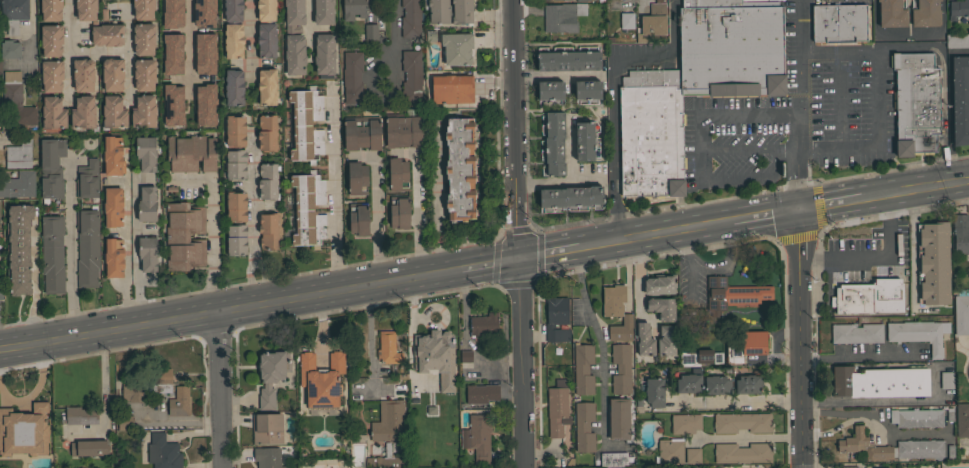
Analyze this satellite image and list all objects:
building: (544, 0)
building: (580, 0)
building: (51, 9)
building: (86, 9)
building: (143, 9)
building: (266, 9)
building: (354, 9)
building: (958, 9)
building: (233, 10)
building: (182, 11)
building: (450, 11)
building: (323, 12)
building: (14, 13)
building: (164, 13)
building: (196, 13)
building: (925, 13)
building: (891, 14)
building: (562, 16)
building: (410, 18)
building: (625, 20)
building: (652, 22)
building: (838, 22)
road: (394, 25)
building: (369, 32)
building: (107, 34)
building: (294, 37)
building: (144, 38)
road: (249, 38)
building: (51, 39)
building: (233, 40)
building: (266, 40)
building: (957, 40)
building: (198, 46)
road: (31, 48)
building: (456, 48)
building: (10, 49)
road: (98, 51)
road: (68, 52)
building: (164, 54)
building: (324, 54)
road: (128, 55)
building: (568, 61)
building: (0, 66)
building: (83, 74)
building: (112, 74)
building: (144, 74)
building: (52, 75)
building: (411, 76)
building: (352, 77)
building: (197, 85)
building: (695, 85)
building: (267, 86)
building: (234, 87)
building: (450, 89)
building: (587, 89)
building: (550, 90)
road: (613, 94)
road: (376, 95)
road: (877, 96)
road: (838, 97)
building: (17, 99)
building: (960, 99)
building: (916, 103)
building: (165, 105)
building: (197, 105)
road: (796, 105)
road: (948, 108)
building: (144, 111)
building: (53, 112)
building: (83, 112)
building: (113, 112)
road: (716, 115)
building: (180, 122)
building: (306, 124)
building: (235, 130)
road: (516, 130)
building: (404, 131)
building: (361, 132)
building: (267, 133)
building: (582, 141)
building: (553, 143)
road: (748, 148)
building: (191, 152)
building: (146, 153)
building: (19, 154)
building: (113, 156)
building: (235, 164)
building: (52, 167)
building: (460, 168)
building: (398, 174)
road: (749, 177)
building: (143, 178)
building: (357, 178)
building: (87, 179)
building: (268, 180)
road: (559, 182)
building: (18, 184)
road: (913, 190)
road: (333, 191)
road: (438, 195)
building: (570, 196)
road: (417, 201)
building: (147, 204)
road: (827, 205)
building: (236, 206)
building: (113, 207)
road: (375, 207)
building: (308, 209)
traffic signals: (797, 211)
building: (399, 212)
road: (764, 217)
road: (250, 218)
building: (358, 220)
building: (268, 230)
road: (210, 233)
road: (675, 233)
building: (960, 233)
building: (184, 236)
building: (236, 239)
building: (87, 246)
road: (599, 246)
road: (912, 246)
building: (19, 248)
road: (69, 251)
building: (53, 253)
road: (125, 253)
building: (148, 253)
road: (549, 255)
building: (114, 257)
road: (869, 258)
traffic signals: (520, 260)
building: (933, 263)
road: (491, 265)
road: (34, 283)
building: (660, 284)
road: (638, 286)
building: (1, 291)
building: (731, 294)
building: (869, 297)
building: (613, 300)
building: (661, 308)
road: (230, 310)
building: (961, 315)
building: (555, 320)
building: (482, 325)
building: (621, 329)
building: (856, 333)
building: (919, 333)
road: (461, 337)
road: (368, 338)
building: (644, 339)
road: (798, 339)
building: (666, 340)
road: (600, 345)
building: (745, 345)
building: (388, 347)
building: (464, 356)
building: (434, 357)
building: (699, 357)
road: (858, 357)
road: (521, 363)
building: (621, 368)
building: (582, 369)
building: (270, 375)
building: (319, 379)
building: (946, 379)
building: (689, 382)
building: (880, 382)
building: (748, 383)
building: (148, 385)
building: (716, 385)
road: (217, 390)
building: (653, 393)
building: (481, 394)
road: (738, 399)
road: (885, 399)
building: (180, 402)
building: (556, 410)
road: (868, 413)
building: (80, 415)
building: (916, 417)
building: (620, 419)
building: (962, 419)
building: (388, 421)
building: (123, 422)
building: (741, 422)
building: (685, 423)
building: (584, 426)
building: (267, 428)
building: (23, 430)
building: (477, 437)
road: (746, 437)
building: (891, 447)
building: (88, 449)
building: (670, 451)
building: (163, 452)
building: (968, 452)
building: (742, 453)
building: (692, 455)
building: (270, 457)
building: (613, 459)
building: (384, 460)
building: (618, 467)
building: (849, 467)

